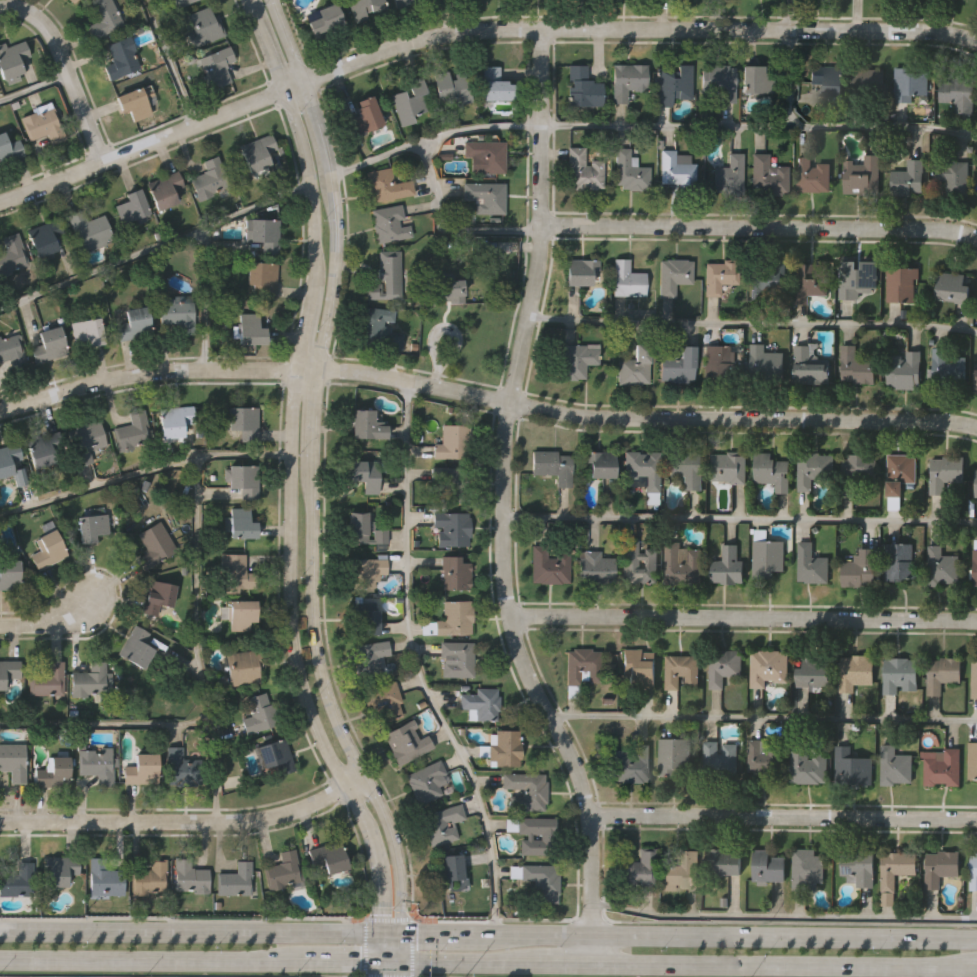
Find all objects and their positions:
building: (72, 0)
building: (403, 2)
building: (183, 3)
building: (364, 7)
building: (102, 18)
building: (323, 20)
building: (203, 26)
road: (473, 30)
building: (123, 57)
building: (12, 59)
road: (169, 62)
road: (788, 64)
building: (216, 65)
road: (64, 68)
building: (827, 78)
building: (756, 79)
building: (627, 80)
building: (718, 80)
building: (867, 81)
building: (911, 82)
building: (674, 83)
building: (495, 85)
building: (451, 87)
building: (582, 87)
road: (33, 89)
building: (959, 93)
building: (411, 99)
building: (132, 103)
building: (364, 116)
building: (41, 122)
road: (759, 128)
road: (432, 139)
building: (9, 147)
building: (259, 153)
building: (487, 155)
building: (677, 169)
building: (584, 170)
building: (629, 171)
building: (813, 174)
building: (729, 175)
building: (769, 175)
building: (863, 175)
building: (952, 175)
building: (909, 176)
building: (209, 178)
building: (386, 185)
building: (164, 190)
building: (486, 197)
building: (132, 206)
building: (389, 223)
road: (759, 227)
building: (90, 229)
road: (444, 231)
building: (264, 233)
building: (45, 236)
road: (155, 251)
building: (10, 252)
building: (479, 252)
building: (581, 272)
building: (674, 274)
building: (720, 275)
building: (264, 277)
building: (386, 277)
building: (628, 278)
building: (769, 278)
building: (859, 279)
building: (811, 280)
building: (902, 284)
building: (955, 289)
building: (444, 290)
road: (207, 298)
building: (178, 312)
building: (134, 323)
road: (752, 324)
building: (378, 328)
building: (251, 329)
building: (88, 330)
building: (49, 345)
building: (12, 347)
building: (578, 360)
building: (766, 360)
building: (719, 363)
building: (676, 364)
building: (857, 365)
building: (636, 366)
building: (810, 366)
building: (949, 367)
building: (905, 369)
building: (976, 383)
road: (486, 396)
building: (244, 421)
building: (174, 422)
building: (367, 426)
building: (133, 431)
building: (86, 440)
building: (454, 441)
building: (44, 447)
building: (11, 463)
building: (599, 465)
building: (554, 466)
building: (687, 467)
building: (641, 468)
building: (729, 468)
building: (815, 469)
building: (773, 472)
building: (857, 472)
road: (143, 474)
building: (363, 474)
building: (901, 474)
building: (946, 474)
building: (243, 481)
building: (453, 481)
road: (289, 484)
building: (976, 484)
road: (309, 485)
road: (501, 503)
road: (739, 520)
building: (239, 524)
building: (92, 525)
building: (362, 527)
building: (452, 527)
building: (155, 546)
building: (48, 547)
building: (767, 560)
building: (651, 563)
building: (975, 564)
building: (900, 565)
building: (548, 566)
building: (682, 566)
building: (813, 566)
building: (943, 566)
building: (596, 567)
building: (728, 569)
building: (234, 571)
building: (366, 571)
building: (859, 571)
building: (454, 572)
building: (9, 574)
building: (155, 596)
building: (238, 613)
building: (364, 617)
road: (743, 617)
building: (453, 618)
road: (49, 622)
road: (197, 640)
building: (138, 648)
building: (371, 657)
building: (455, 659)
road: (415, 665)
building: (583, 665)
building: (724, 665)
building: (770, 666)
building: (241, 667)
building: (639, 667)
building: (682, 670)
building: (8, 672)
building: (814, 672)
building: (854, 673)
building: (944, 673)
building: (901, 674)
building: (975, 678)
building: (48, 679)
building: (89, 679)
building: (384, 699)
building: (480, 703)
building: (257, 715)
road: (763, 718)
road: (106, 724)
building: (406, 741)
building: (504, 747)
building: (276, 754)
building: (674, 755)
building: (766, 756)
building: (721, 757)
building: (13, 760)
building: (973, 760)
building: (97, 764)
building: (633, 764)
building: (808, 764)
building: (895, 765)
building: (179, 766)
building: (853, 766)
building: (139, 768)
building: (945, 768)
building: (54, 770)
building: (426, 781)
building: (525, 791)
road: (782, 816)
road: (186, 820)
building: (441, 824)
building: (544, 837)
building: (327, 856)
building: (726, 860)
building: (767, 866)
building: (448, 867)
building: (640, 868)
building: (807, 868)
building: (858, 868)
building: (896, 868)
building: (940, 868)
building: (60, 870)
building: (281, 870)
building: (680, 870)
building: (973, 872)
building: (187, 877)
building: (104, 878)
building: (149, 878)
building: (18, 880)
building: (235, 880)
building: (540, 882)
road: (783, 919)
traffic signals: (376, 934)
traffic signals: (398, 934)
road: (488, 934)
road: (154, 964)
road: (342, 966)
traffic signals: (377, 966)
road: (387, 966)
road: (466, 966)
road: (563, 966)
traffic signals: (398, 967)
road: (784, 967)
road: (377, 971)
road: (398, 972)

